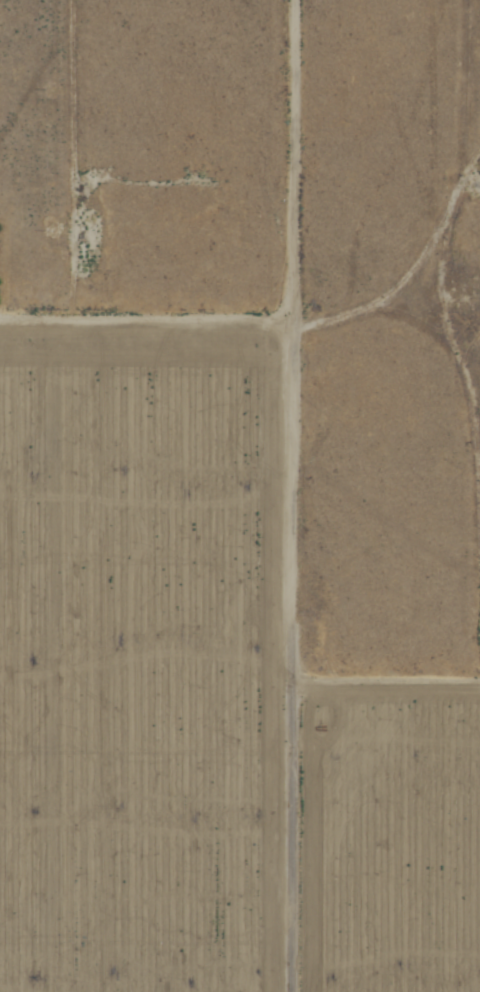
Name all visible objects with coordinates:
road: (429, 112)
road: (10, 140)
road: (309, 271)
road: (477, 284)
road: (247, 495)
road: (367, 665)
crop: (204, 693)

